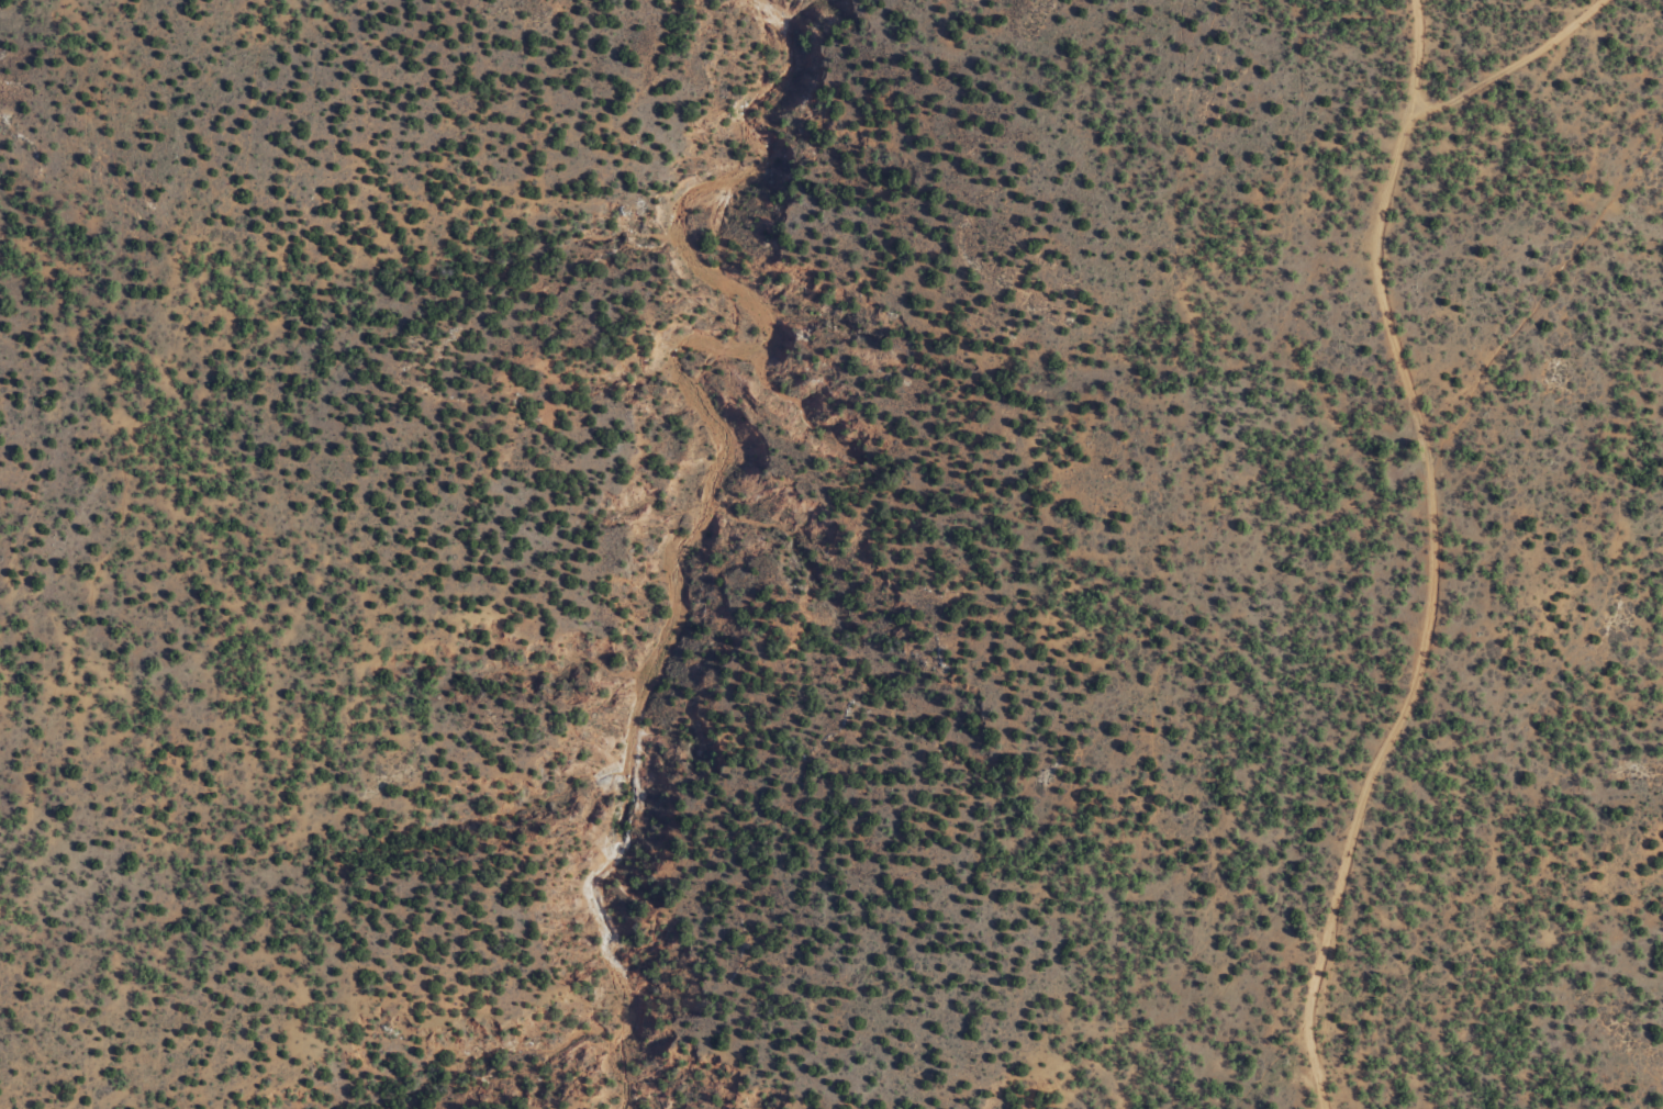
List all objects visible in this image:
road: (1398, 560)

